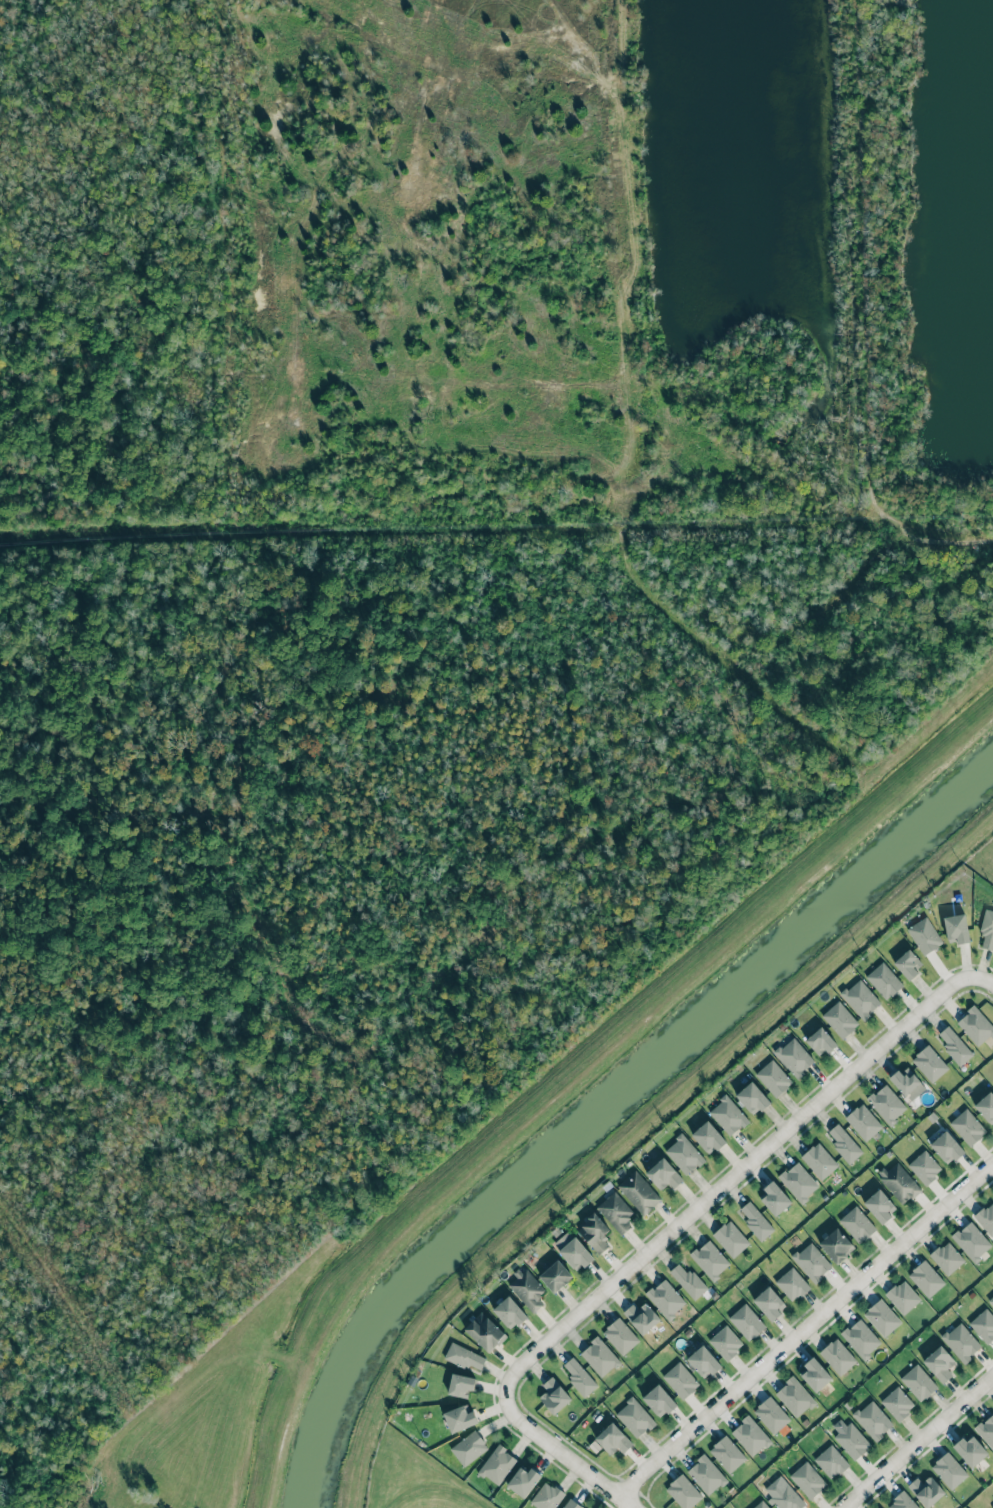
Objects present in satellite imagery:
road: (866, 252)
building: (956, 928)
building: (987, 930)
building: (924, 935)
building: (908, 964)
building: (884, 980)
road: (981, 981)
building: (860, 1000)
building: (839, 1020)
building: (975, 1025)
building: (821, 1041)
building: (954, 1046)
building: (794, 1058)
building: (929, 1063)
building: (773, 1078)
building: (905, 1081)
building: (752, 1098)
building: (886, 1105)
building: (986, 1107)
building: (729, 1115)
building: (863, 1122)
building: (967, 1127)
building: (707, 1137)
building: (844, 1143)
building: (946, 1147)
building: (684, 1154)
building: (818, 1161)
building: (924, 1167)
building: (663, 1174)
road: (731, 1179)
building: (798, 1182)
building: (898, 1183)
building: (638, 1193)
building: (774, 1199)
building: (879, 1205)
building: (615, 1213)
building: (986, 1218)
building: (756, 1222)
building: (857, 1224)
building: (594, 1232)
building: (731, 1239)
building: (971, 1241)
building: (836, 1245)
building: (572, 1250)
building: (946, 1257)
building: (710, 1260)
building: (811, 1262)
building: (555, 1276)
building: (925, 1278)
building: (689, 1282)
building: (791, 1284)
building: (526, 1289)
building: (902, 1296)
building: (665, 1299)
building: (991, 1301)
building: (768, 1303)
building: (509, 1312)
building: (641, 1317)
building: (881, 1317)
building: (745, 1321)
building: (983, 1325)
road: (805, 1330)
building: (484, 1332)
building: (621, 1336)
building: (860, 1338)
building: (725, 1342)
building: (960, 1342)
building: (600, 1356)
building: (837, 1356)
building: (464, 1357)
building: (703, 1362)
building: (939, 1363)
building: (814, 1374)
building: (579, 1378)
building: (680, 1380)
building: (918, 1382)
building: (460, 1385)
building: (554, 1395)
building: (794, 1396)
building: (658, 1400)
building: (897, 1403)
building: (770, 1414)
building: (634, 1417)
building: (459, 1418)
building: (872, 1420)
building: (986, 1429)
building: (750, 1436)
building: (612, 1439)
building: (851, 1440)
road: (919, 1441)
building: (468, 1447)
building: (969, 1450)
road: (562, 1454)
building: (726, 1454)
building: (830, 1462)
building: (497, 1465)
building: (949, 1470)
building: (705, 1474)
building: (807, 1479)
building: (522, 1481)
building: (925, 1490)
building: (683, 1491)
building: (783, 1495)
building: (546, 1496)
building: (902, 1501)
building: (992, 1502)
building: (571, 1504)
building: (760, 1505)

